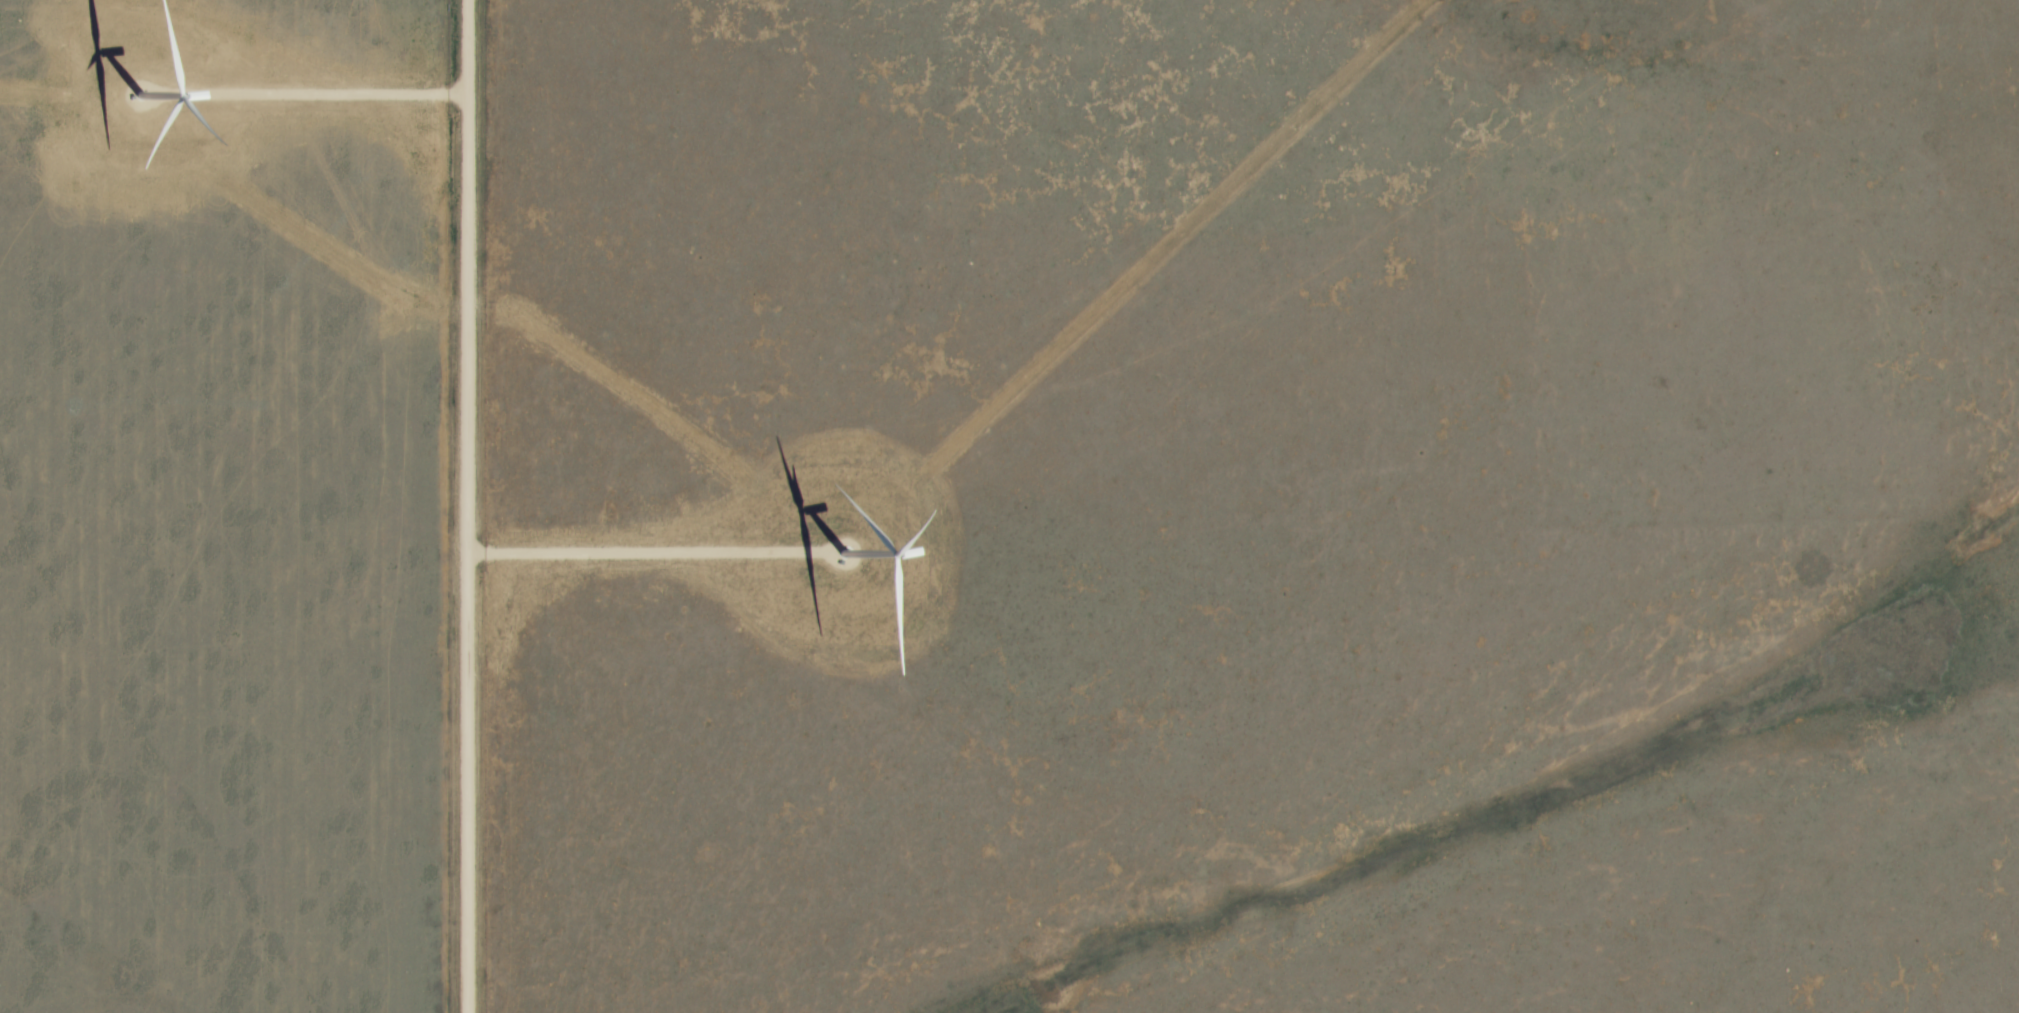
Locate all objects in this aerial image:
wind turbine: (141, 94)
road: (316, 96)
road: (467, 506)
wind turbine: (837, 549)
road: (645, 554)

